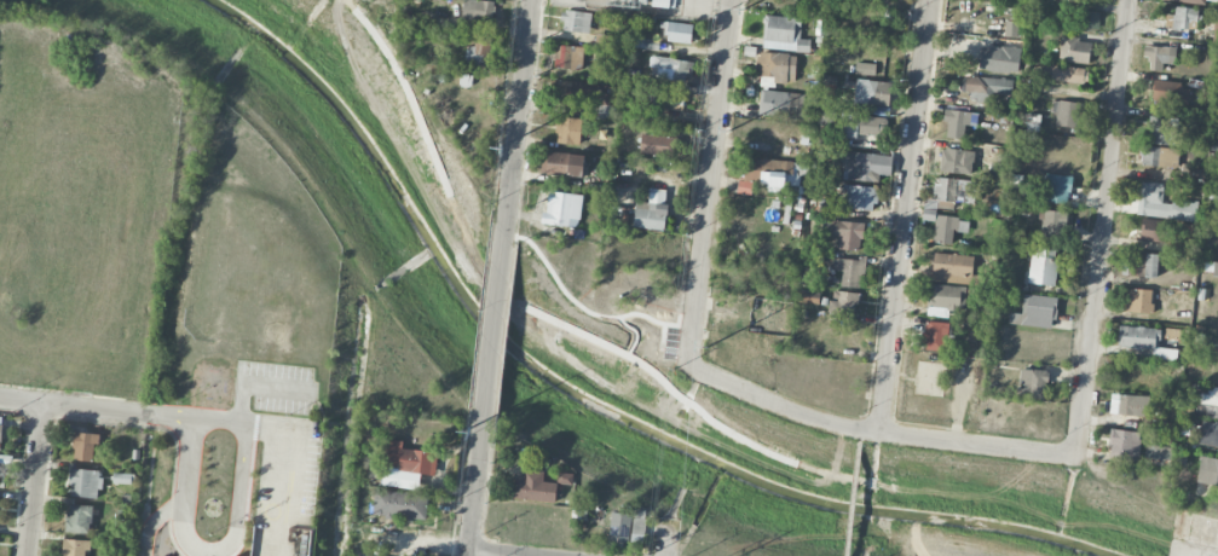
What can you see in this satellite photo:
building: (994, 0)
building: (1197, 1)
building: (665, 4)
road: (721, 4)
power substation: (650, 7)
building: (477, 10)
power tower: (744, 12)
building: (1184, 18)
building: (1086, 19)
building: (576, 22)
building: (1009, 28)
building: (679, 33)
building: (783, 33)
building: (645, 44)
building: (1074, 50)
building: (479, 51)
building: (1159, 56)
building: (568, 57)
building: (999, 59)
building: (775, 68)
building: (669, 69)
building: (865, 69)
building: (1064, 74)
building: (987, 88)
building: (872, 92)
building: (1171, 93)
building: (568, 94)
building: (783, 104)
road: (519, 105)
building: (607, 105)
building: (1067, 114)
building: (830, 118)
building: (958, 120)
building: (867, 126)
power tower: (728, 128)
building: (567, 131)
building: (1162, 131)
building: (658, 145)
power tower: (500, 151)
building: (1160, 157)
building: (956, 161)
building: (561, 164)
building: (999, 164)
building: (866, 166)
building: (770, 174)
road: (709, 183)
building: (1056, 189)
building: (954, 190)
building: (860, 197)
building: (1161, 203)
building: (829, 207)
building: (561, 208)
building: (651, 210)
road: (905, 216)
building: (1054, 225)
building: (948, 228)
road: (1103, 228)
building: (1155, 231)
building: (1185, 231)
building: (847, 234)
building: (1139, 265)
building: (1043, 266)
building: (952, 267)
building: (1214, 270)
building: (849, 271)
building: (808, 297)
building: (946, 300)
building: (1137, 301)
building: (843, 302)
building: (1035, 312)
road: (496, 320)
road: (584, 335)
building: (935, 335)
building: (1138, 337)
power tower: (708, 348)
road: (258, 382)
building: (1032, 384)
building: (1205, 400)
road: (77, 405)
building: (1127, 405)
road: (780, 409)
building: (0, 424)
road: (283, 429)
power tower: (467, 434)
building: (1208, 434)
building: (1124, 445)
building: (85, 446)
road: (977, 447)
building: (1158, 452)
building: (409, 459)
building: (1208, 470)
road: (36, 479)
building: (565, 479)
building: (85, 483)
building: (533, 487)
road: (477, 493)
road: (853, 493)
building: (399, 504)
building: (79, 519)
road: (152, 521)
building: (639, 526)
building: (619, 529)
road: (666, 543)
building: (75, 548)
road: (207, 551)
road: (489, 554)

